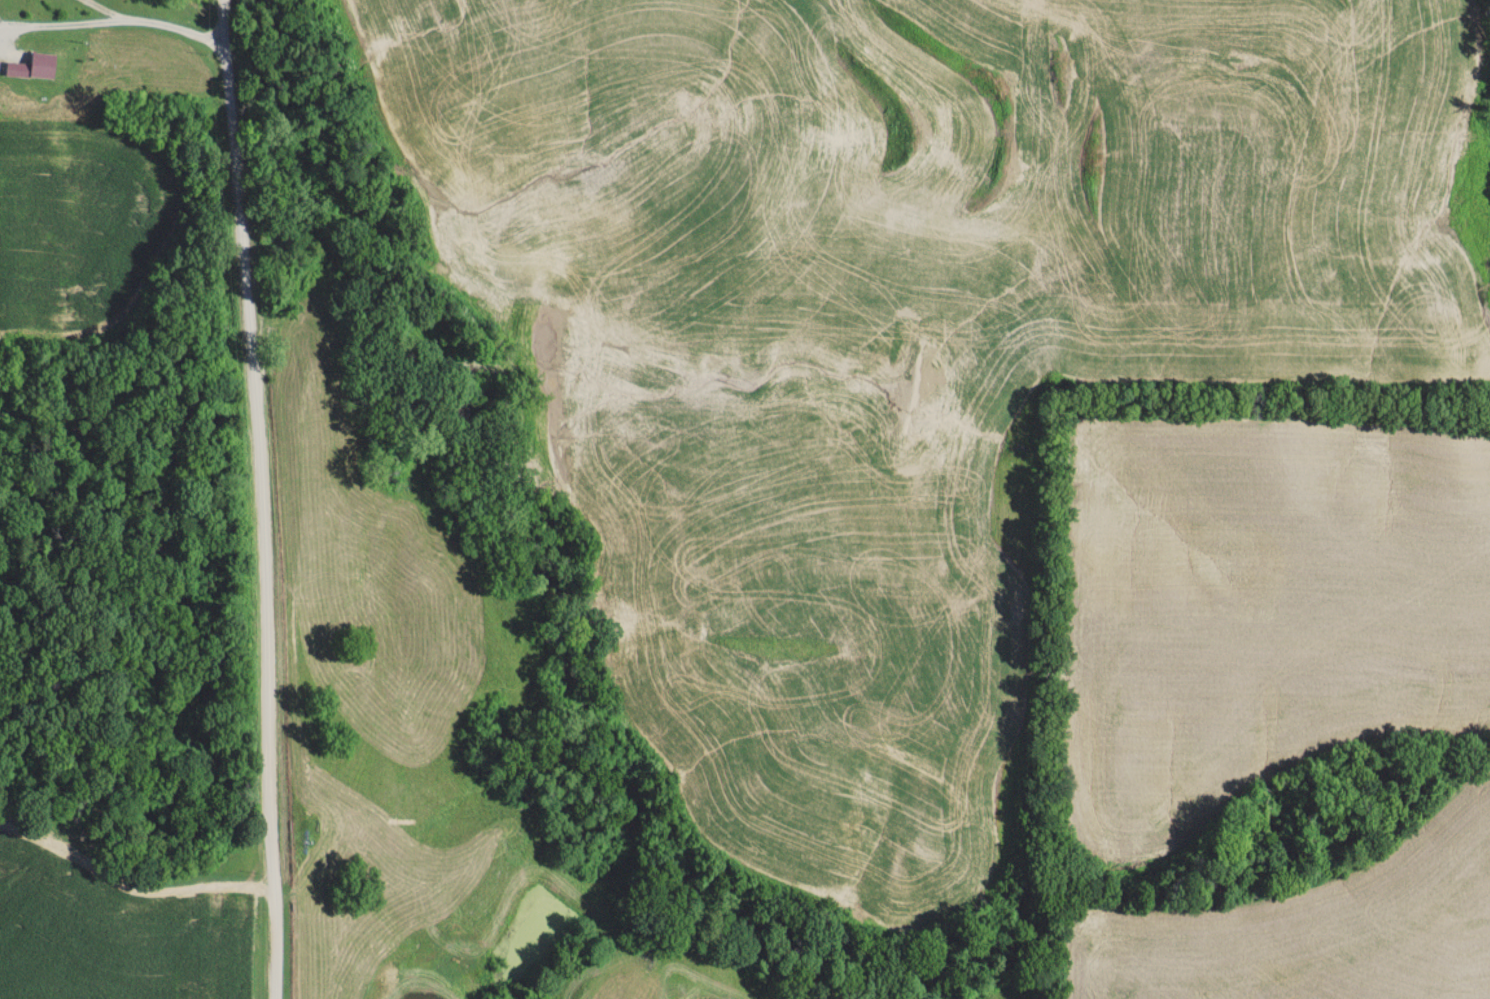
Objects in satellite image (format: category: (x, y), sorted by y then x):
road: (101, 26)
road: (211, 43)
road: (264, 498)

